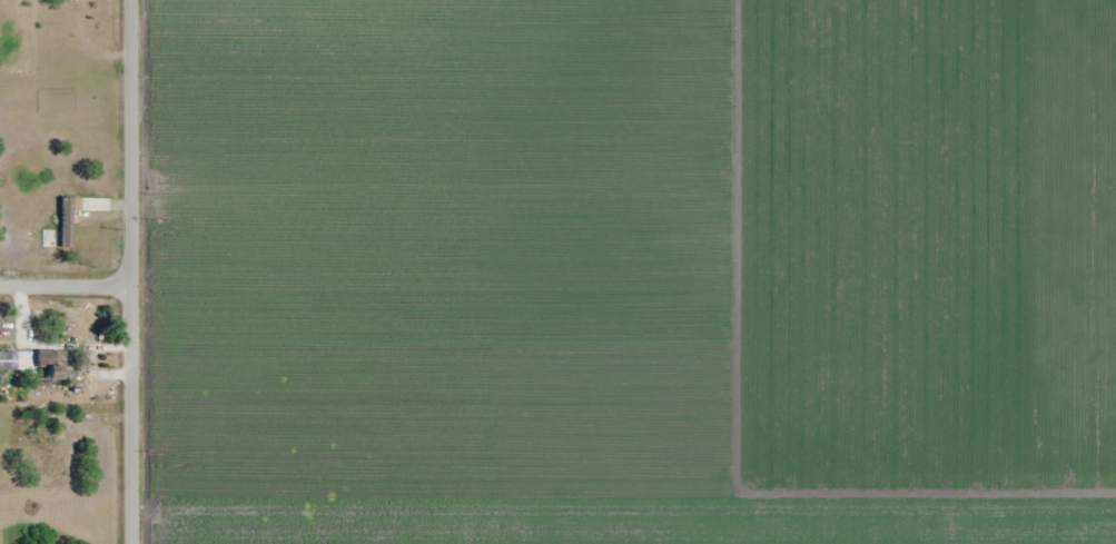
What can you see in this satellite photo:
building: (67, 222)
road: (136, 271)
road: (68, 281)
building: (55, 364)

